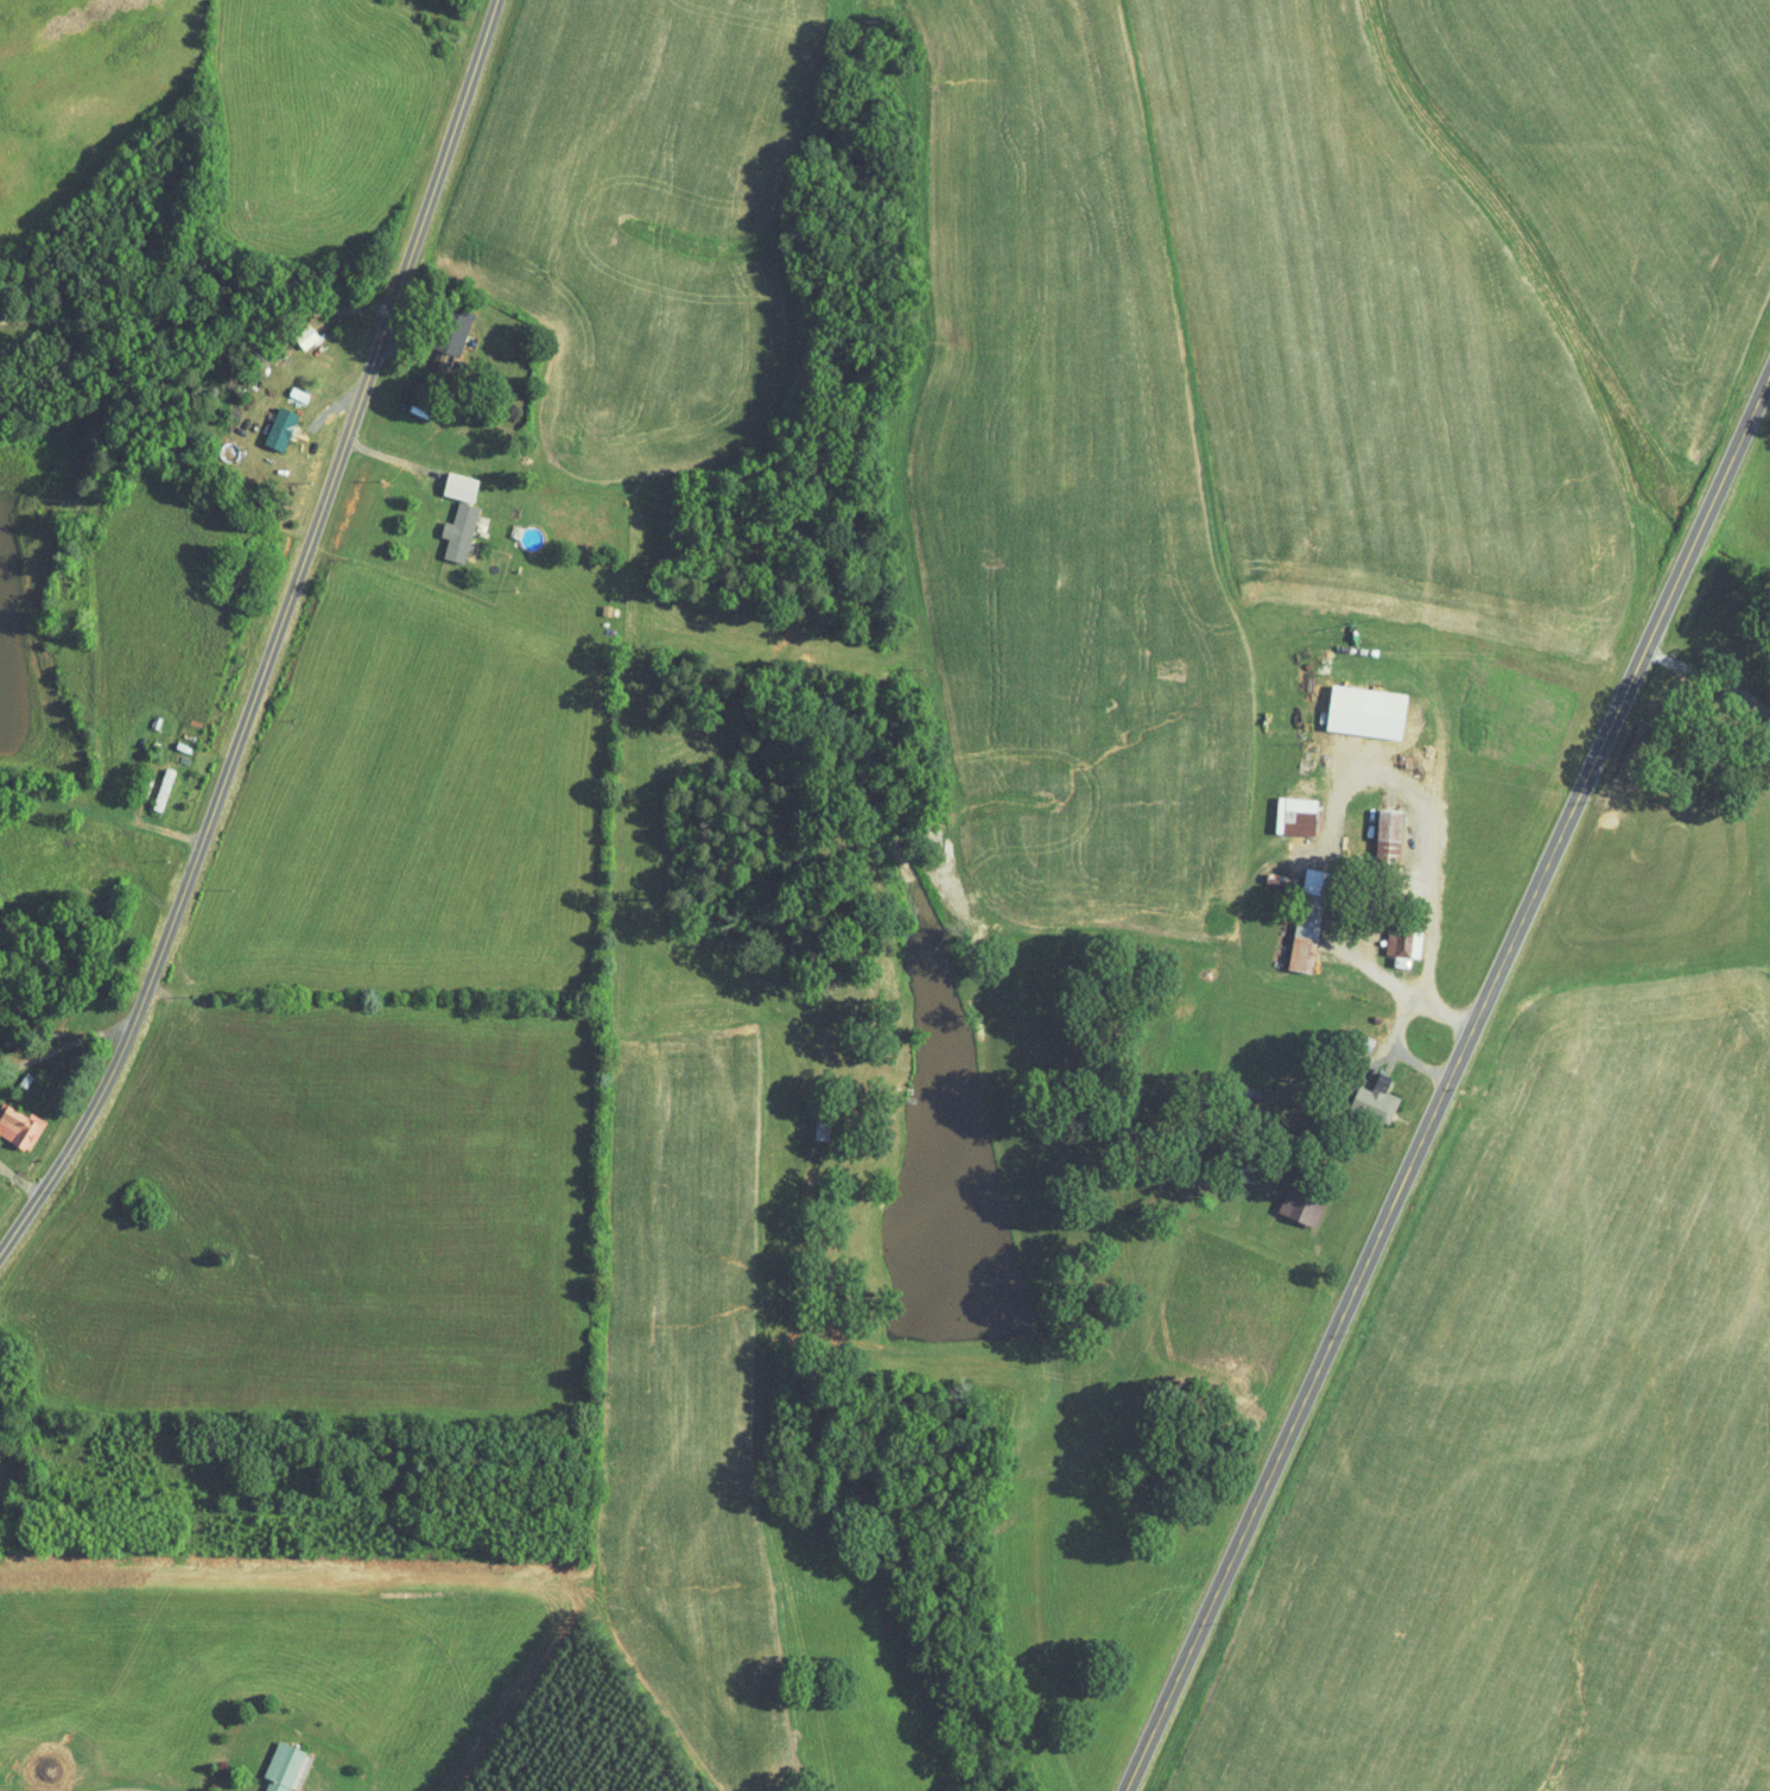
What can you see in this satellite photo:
road: (196, 318)
road: (419, 328)
building: (283, 428)
road: (389, 483)
building: (462, 486)
road: (274, 510)
building: (462, 531)
road: (273, 633)
road: (1708, 681)
building: (1357, 710)
road: (141, 785)
building: (164, 789)
building: (1293, 815)
road: (96, 821)
building: (1383, 838)
road: (140, 904)
building: (1298, 938)
building: (1400, 942)
road: (1401, 995)
road: (59, 1046)
road: (1446, 1083)
road: (1391, 1115)
building: (20, 1125)
road: (18, 1176)
building: (1305, 1203)
building: (287, 1765)

